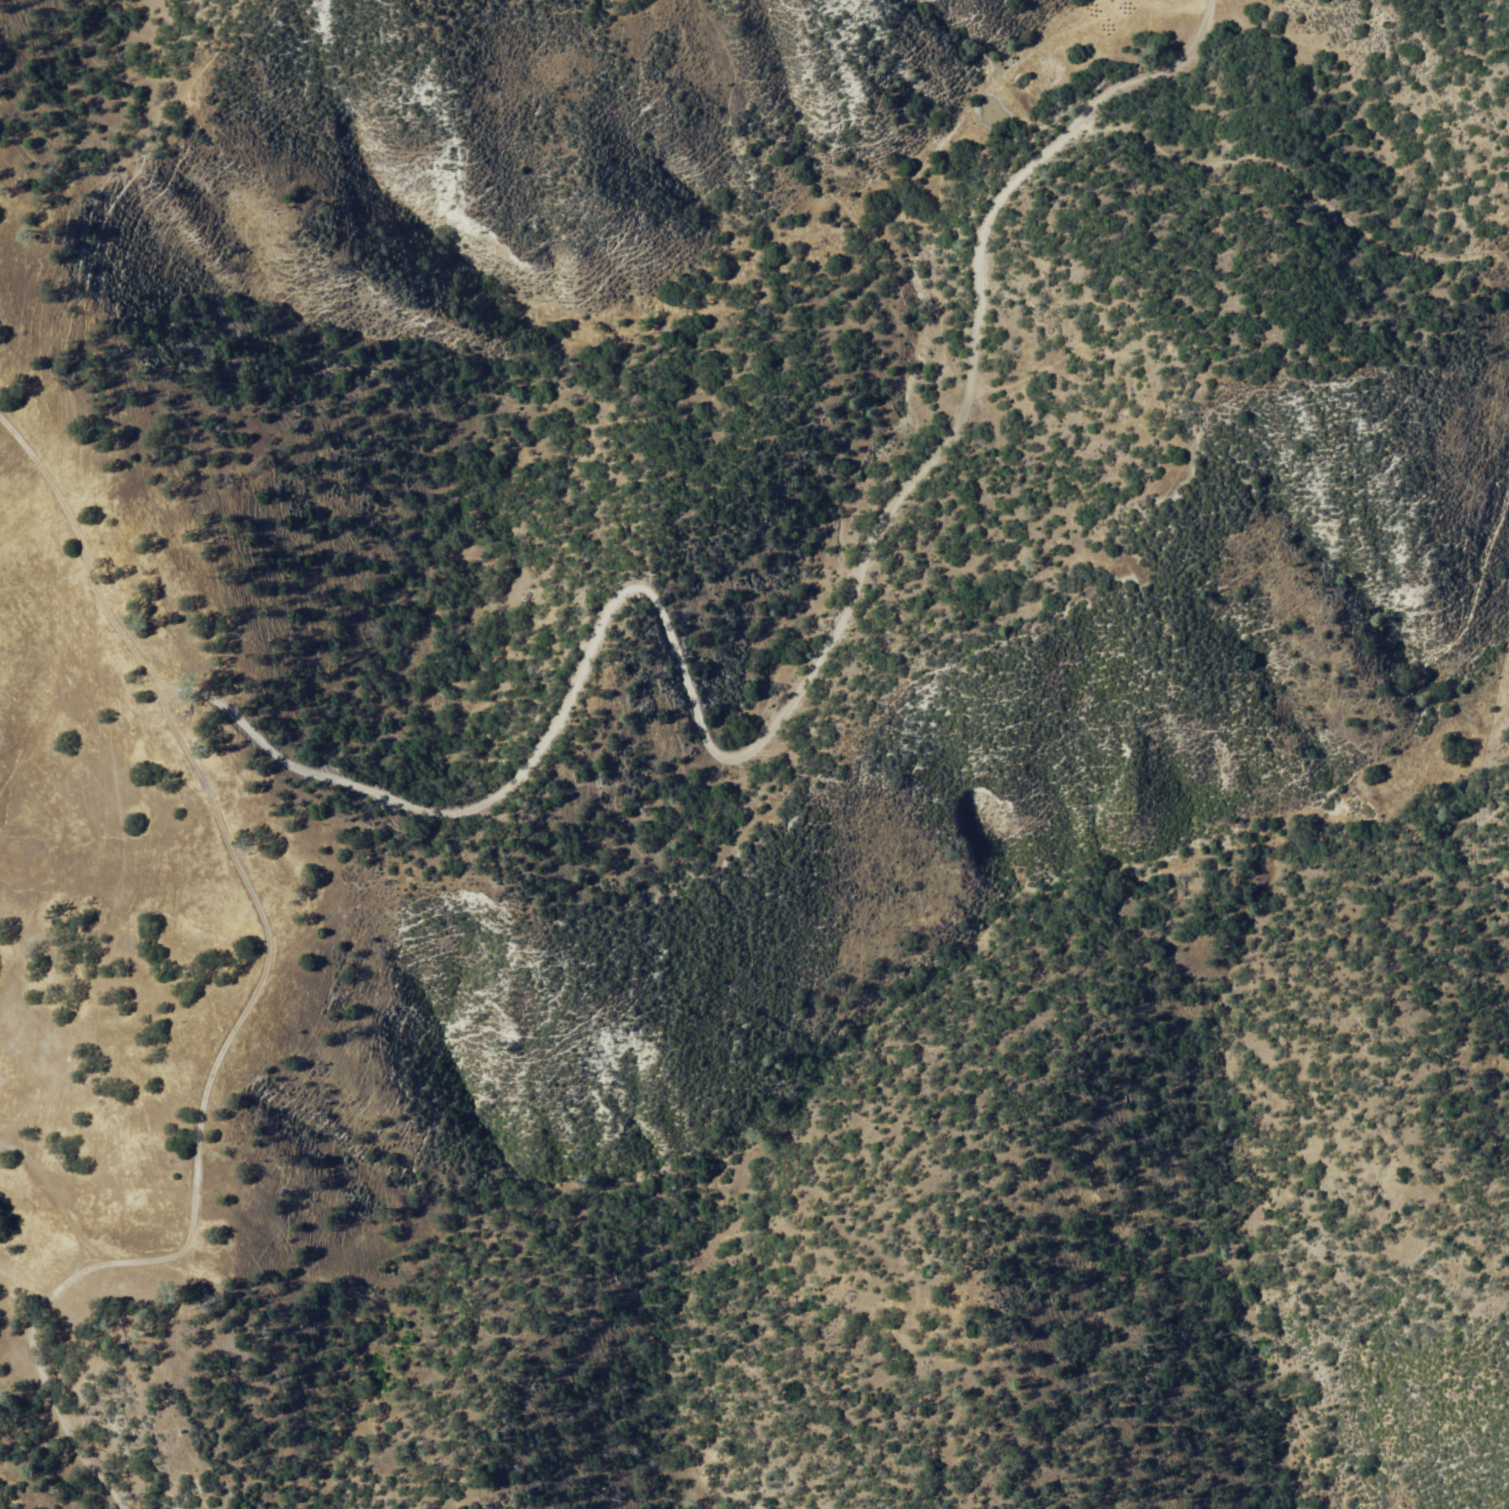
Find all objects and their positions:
road: (687, 698)
road: (233, 868)
road: (90, 1268)
road: (35, 1321)

